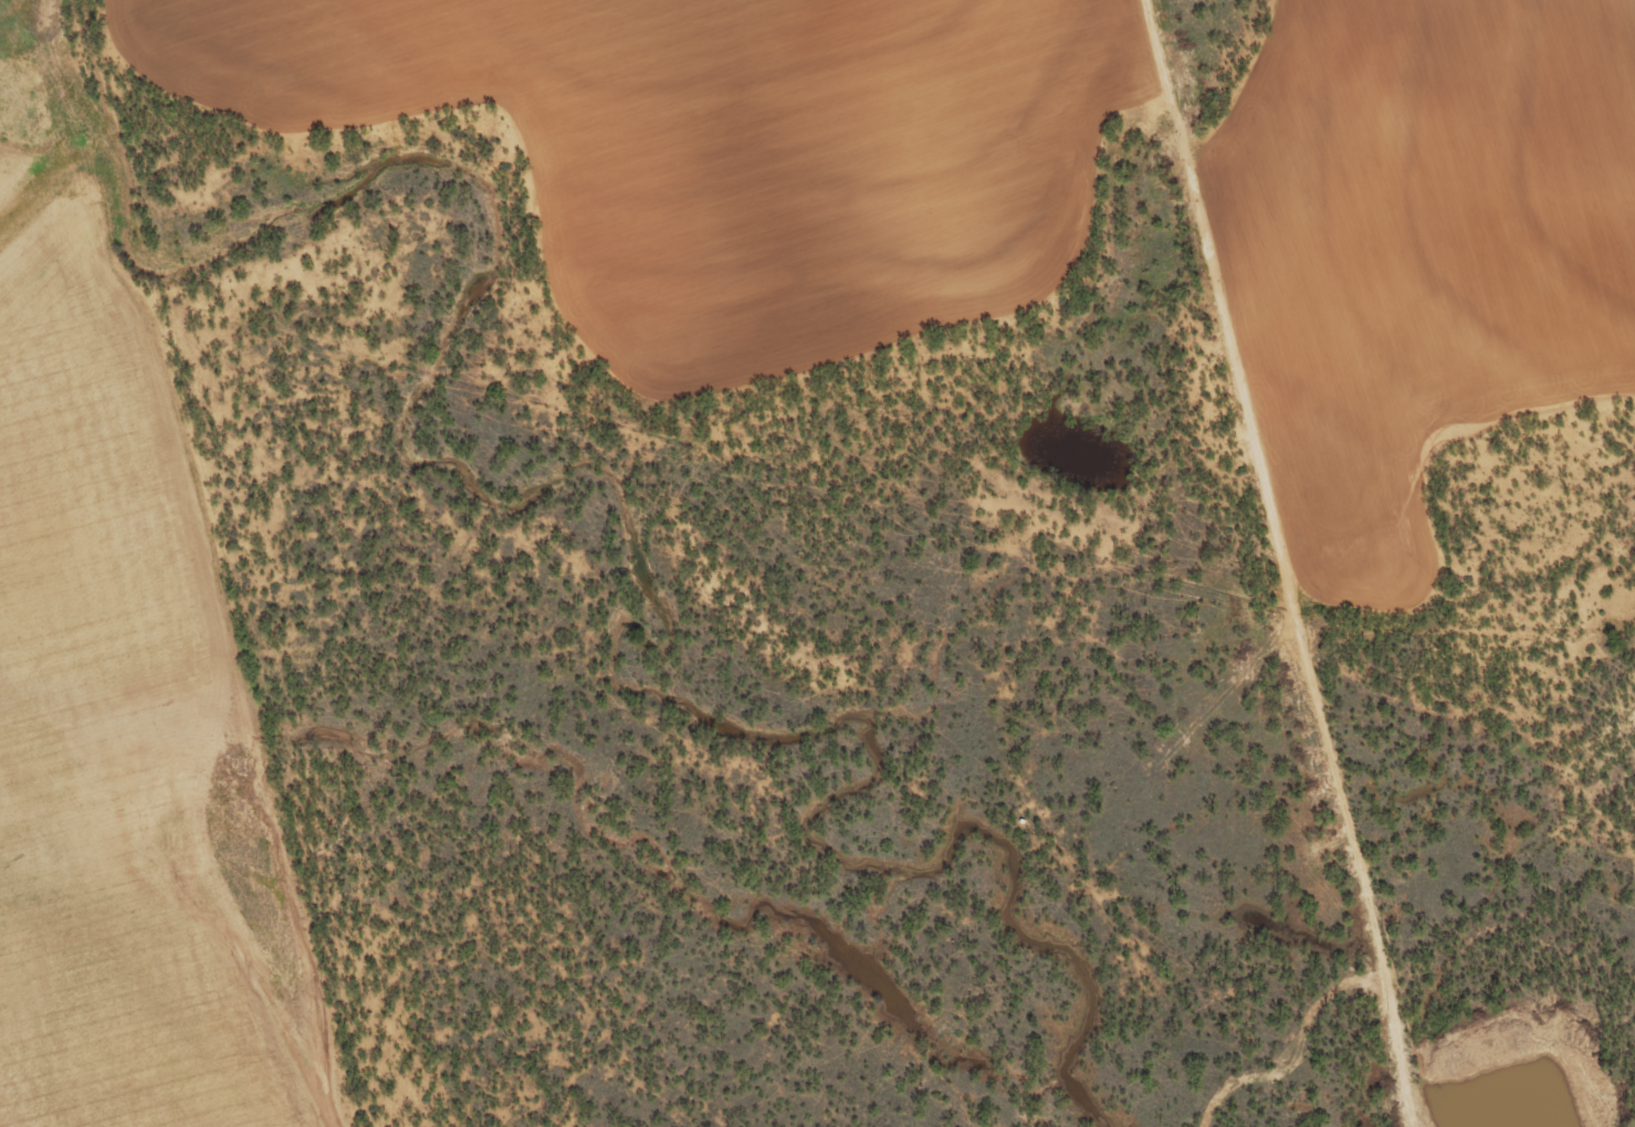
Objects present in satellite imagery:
road: (1262, 567)

